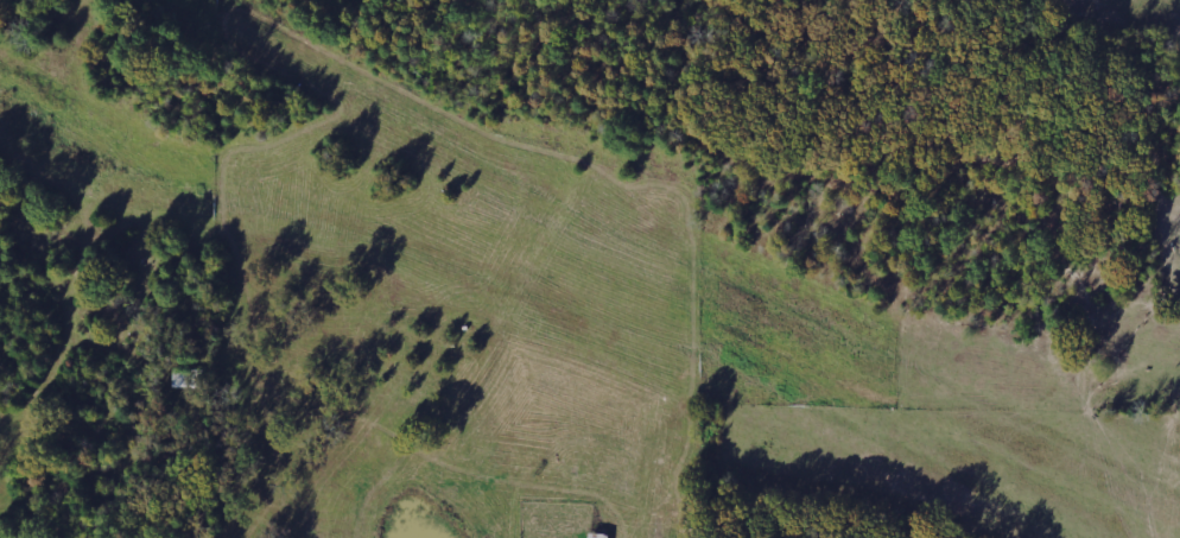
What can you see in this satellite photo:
building: (190, 379)
building: (601, 536)

